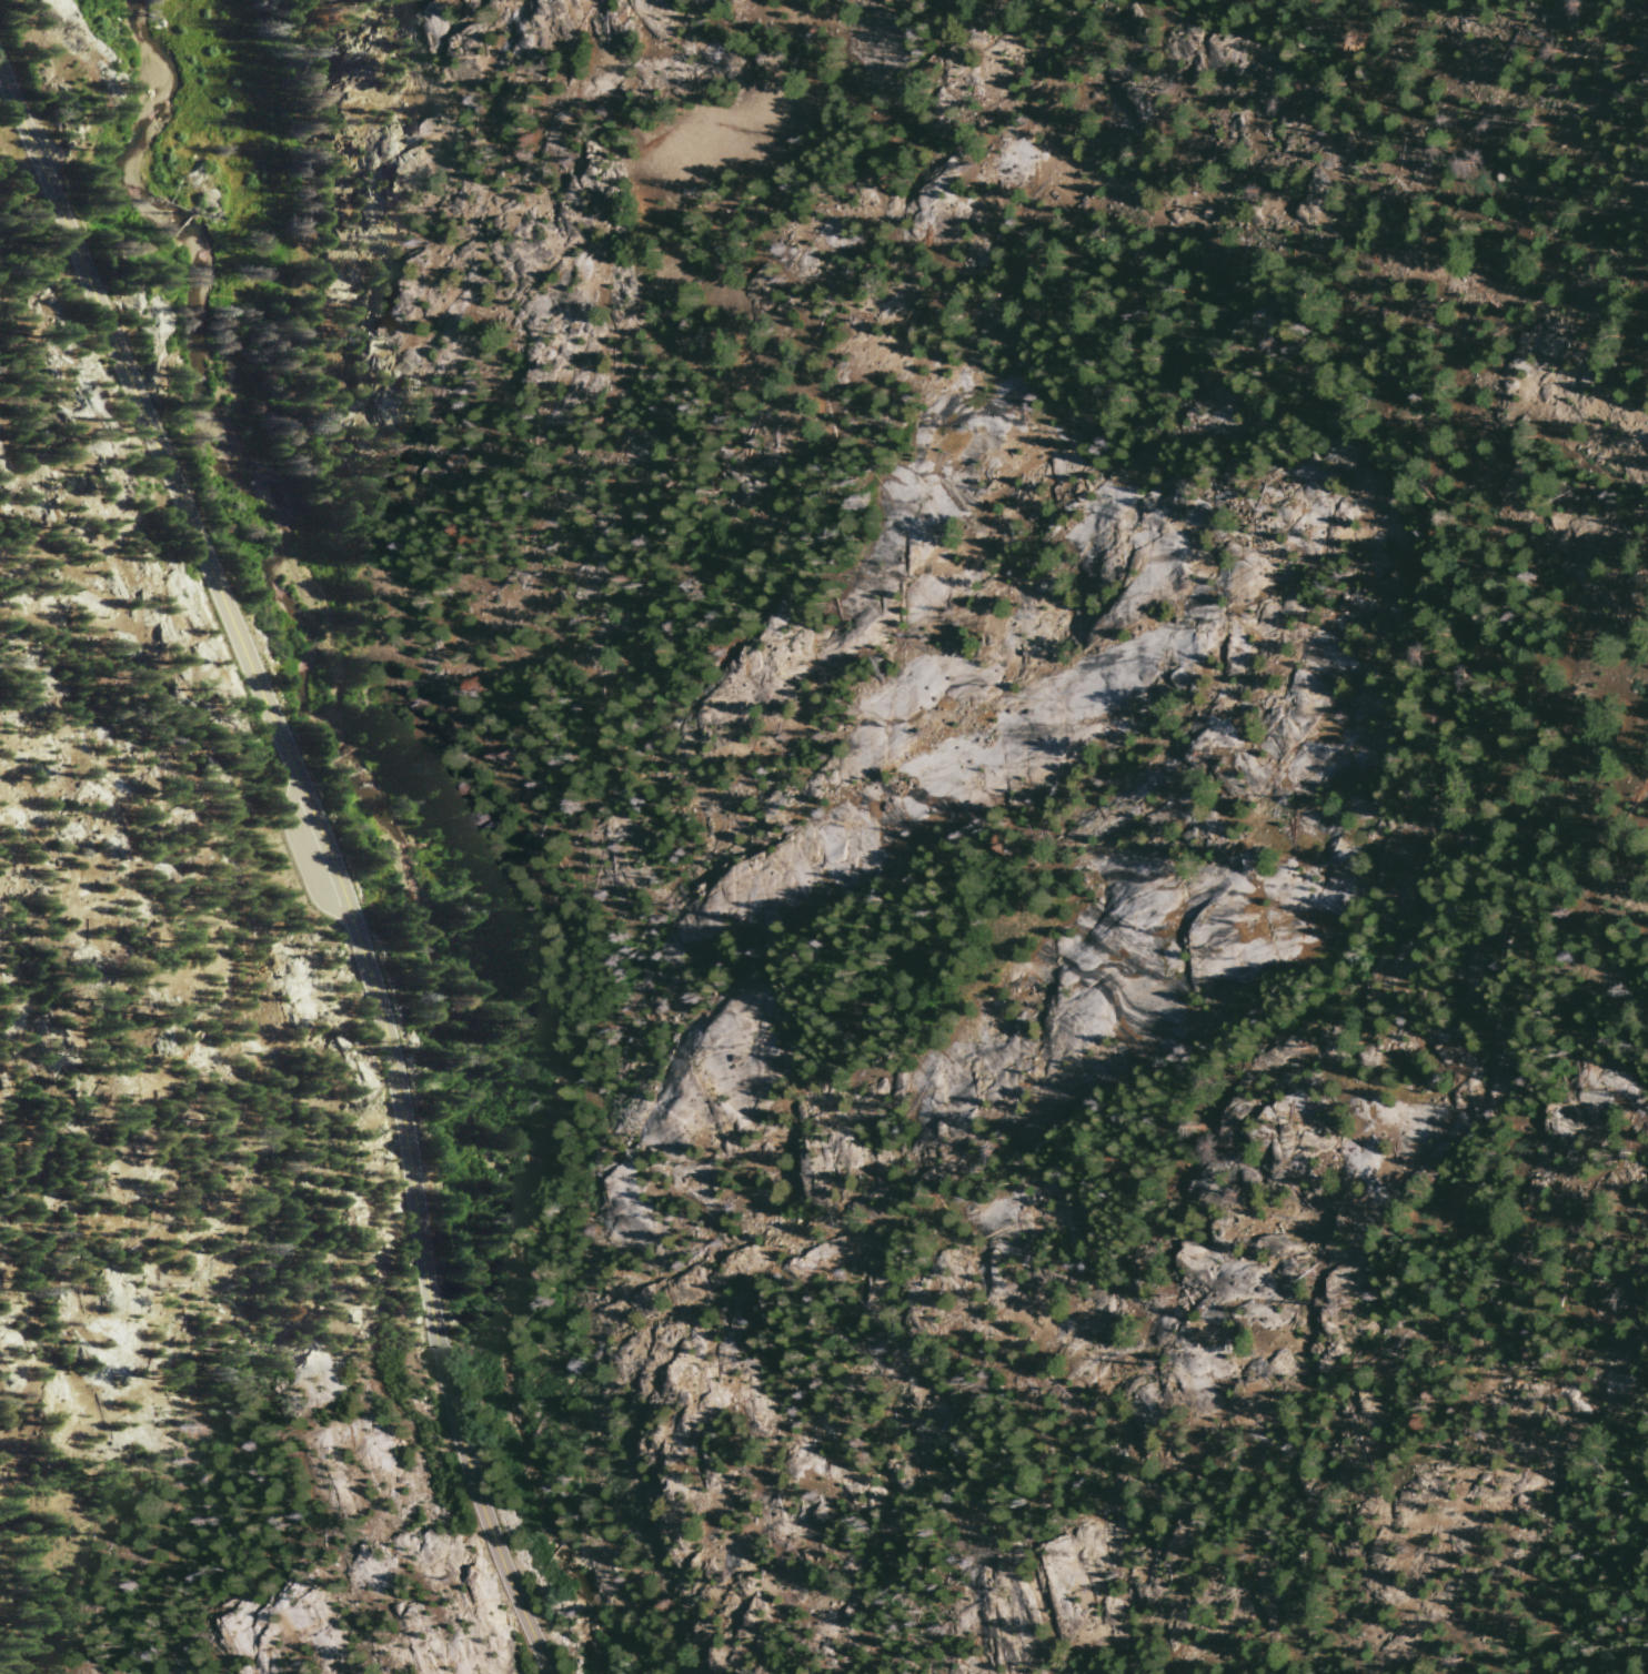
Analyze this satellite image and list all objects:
road: (223, 599)
river: (376, 815)
parking lot: (312, 855)
road: (405, 1153)
road: (456, 1424)

